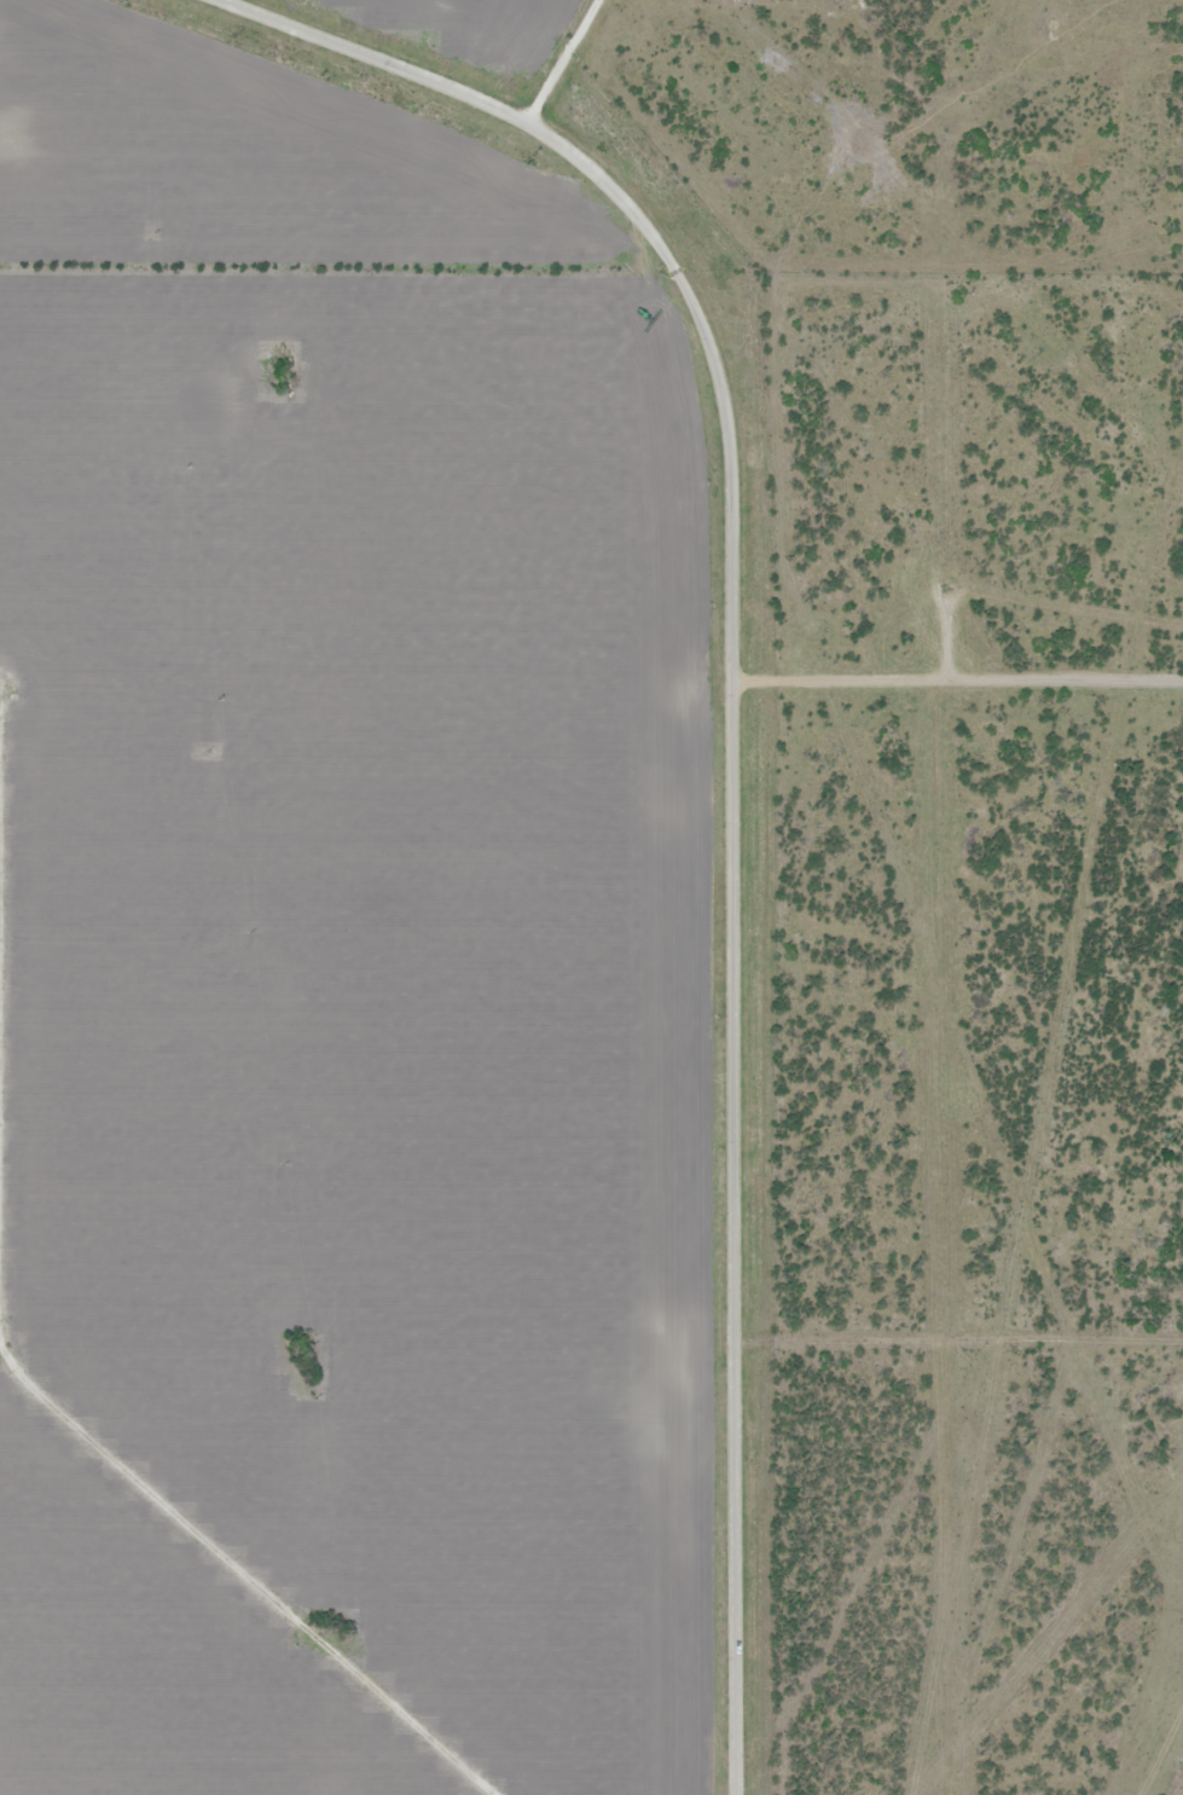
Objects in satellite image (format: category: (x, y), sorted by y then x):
road: (557, 57)
road: (955, 681)
road: (727, 758)
road: (964, 1353)
road: (228, 1531)

